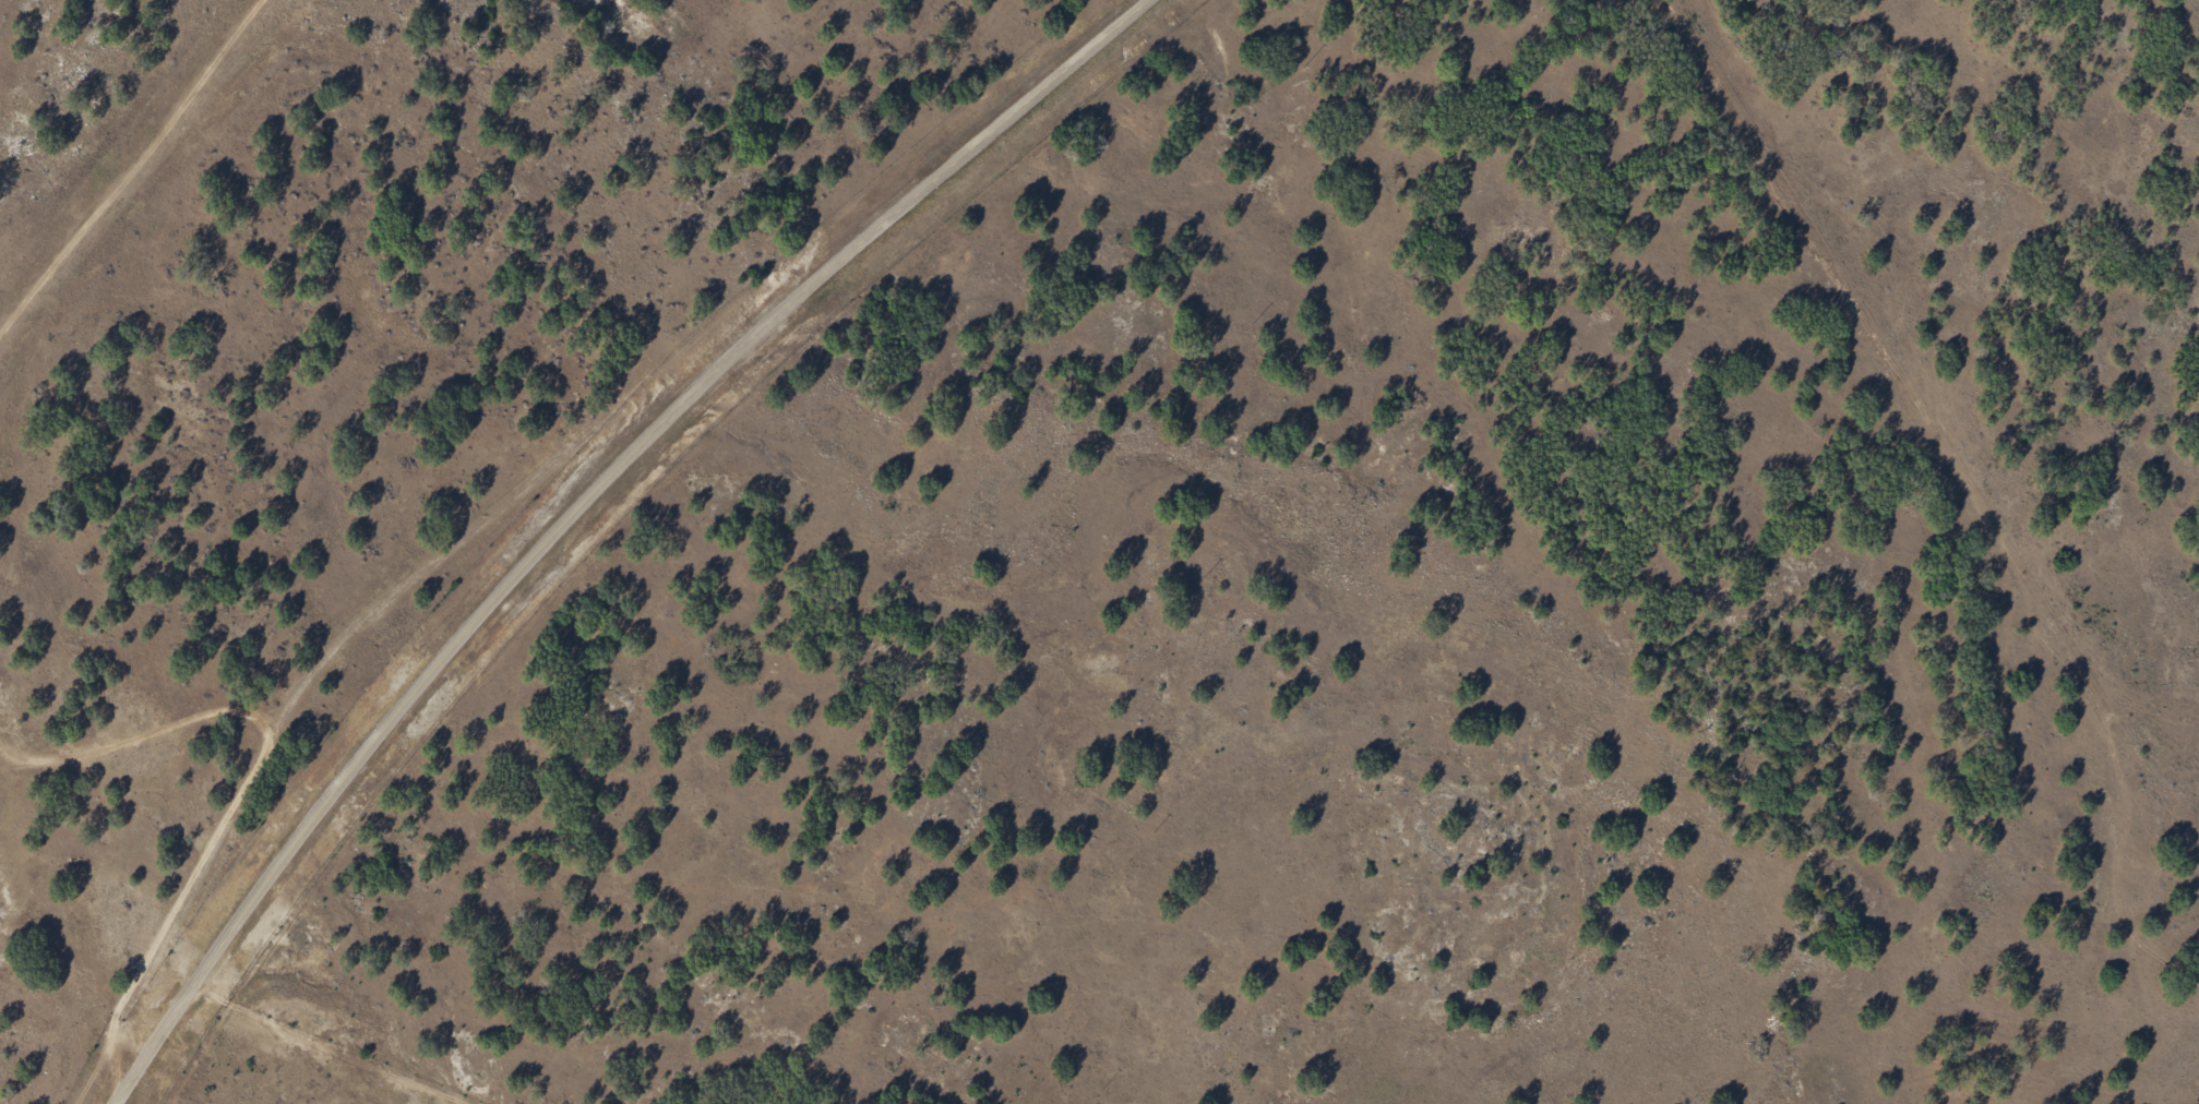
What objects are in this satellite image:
airport runway: (135, 168)
road: (579, 500)
road: (157, 806)

